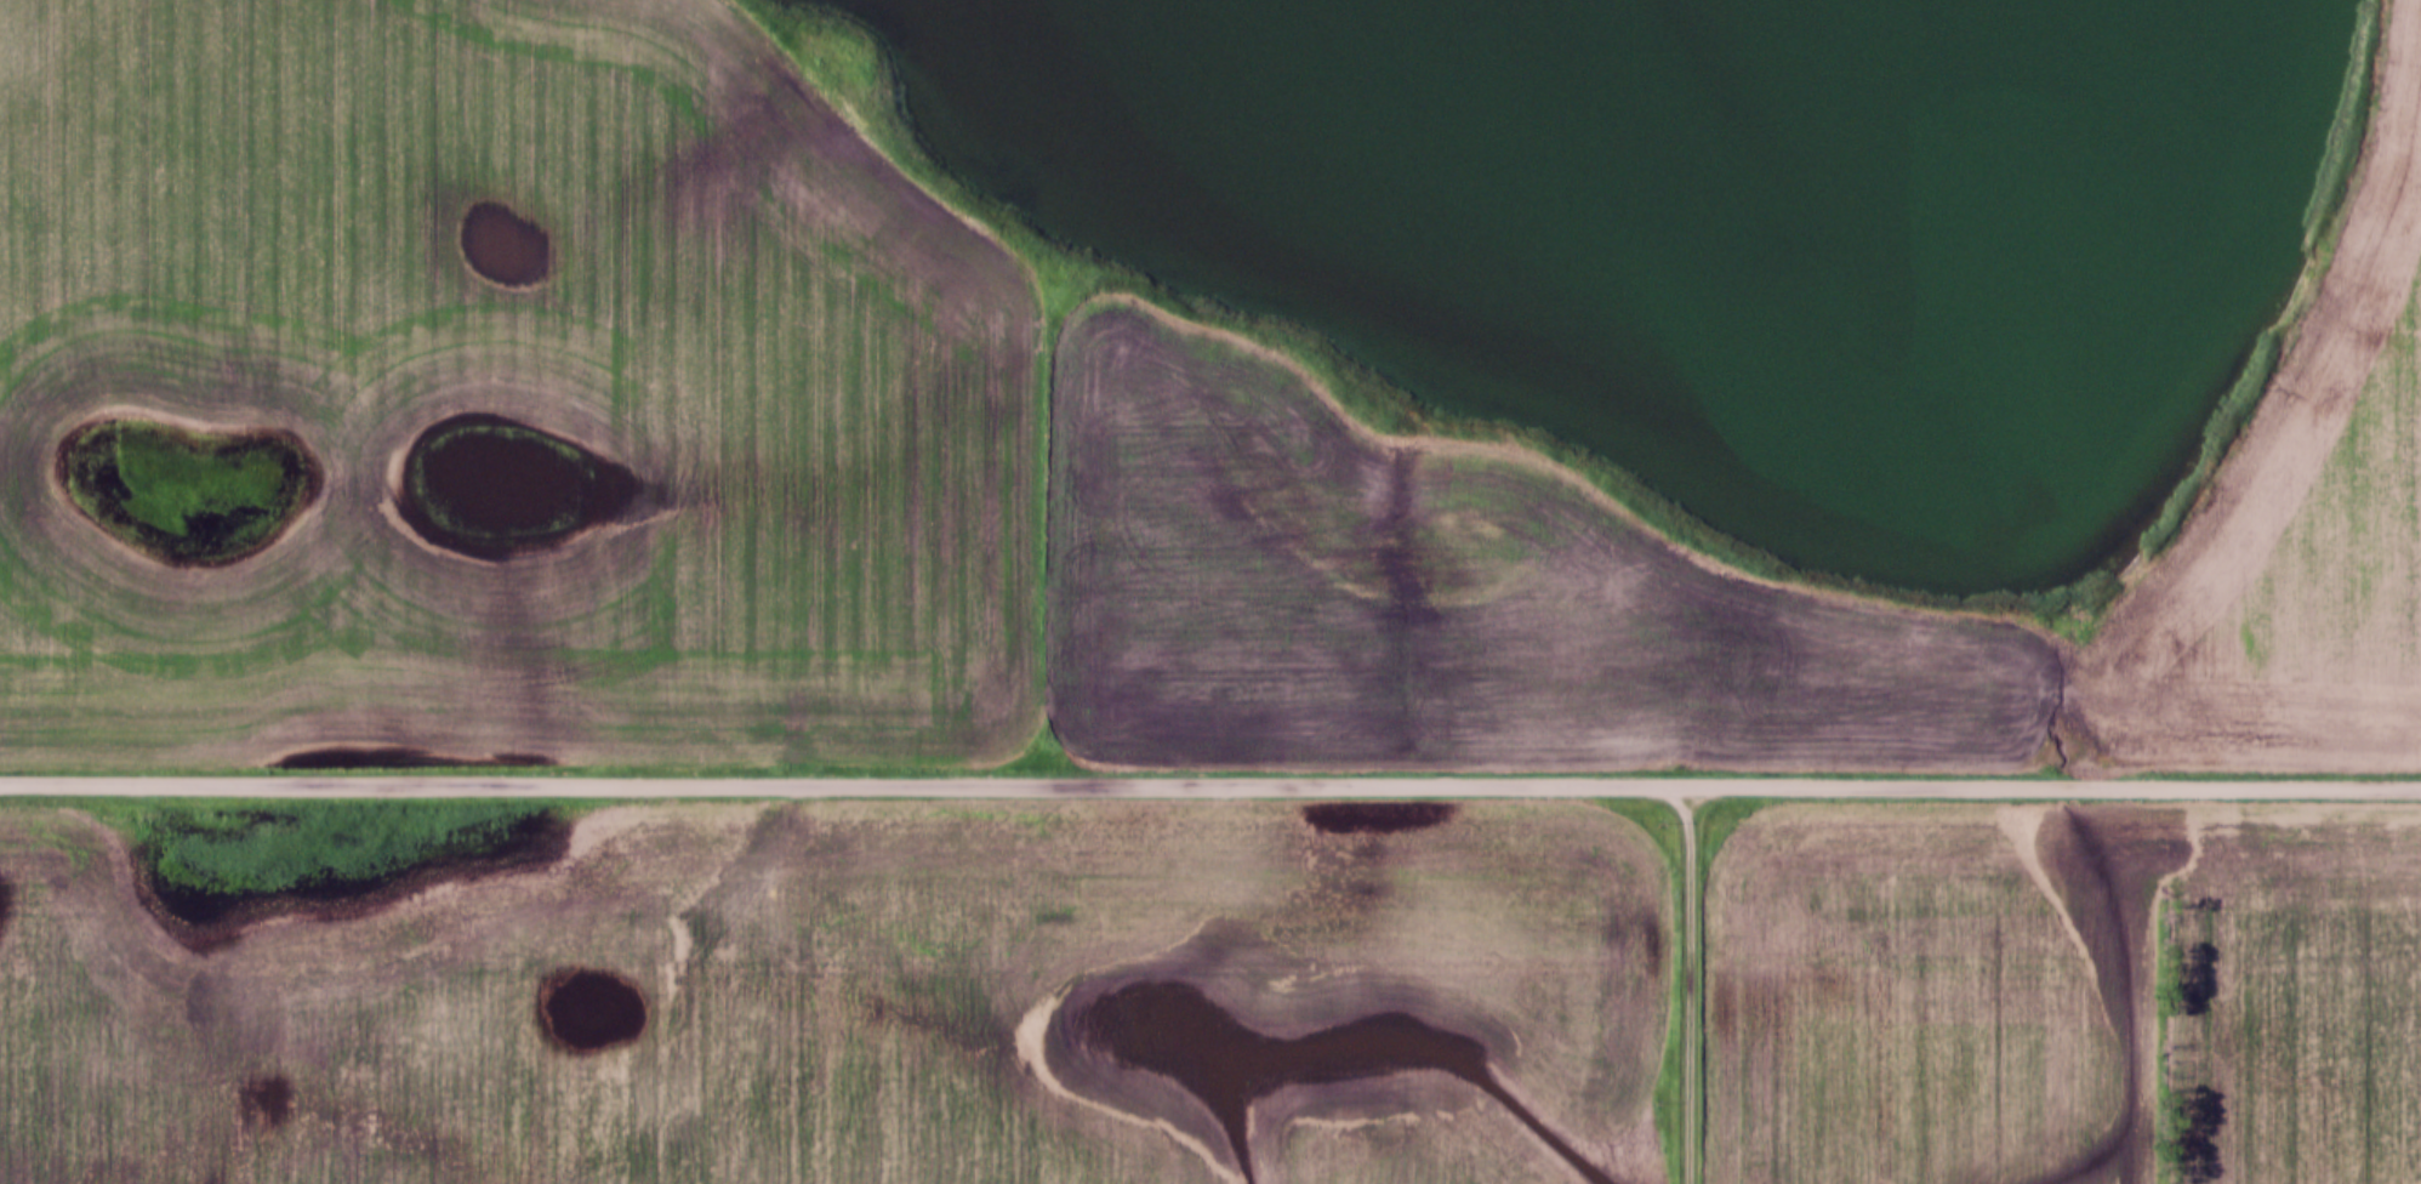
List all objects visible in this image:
road: (1210, 780)
road: (1688, 981)

